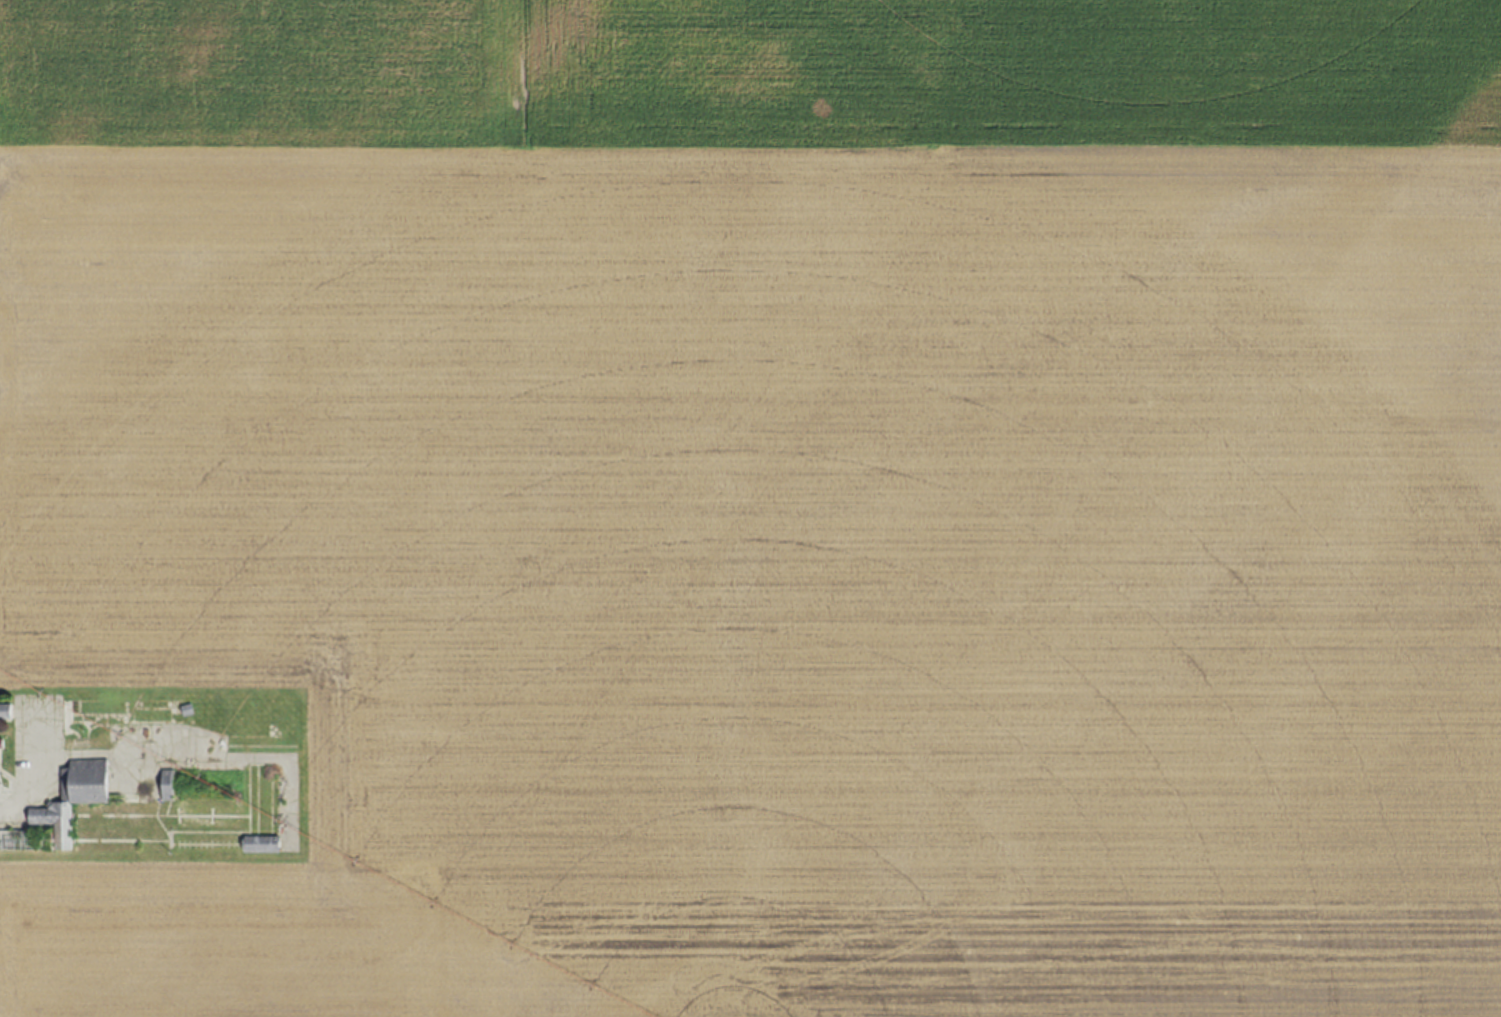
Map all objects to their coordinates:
building: (5, 711)
road: (206, 753)
road: (41, 769)
building: (167, 784)
building: (62, 808)
building: (261, 843)

